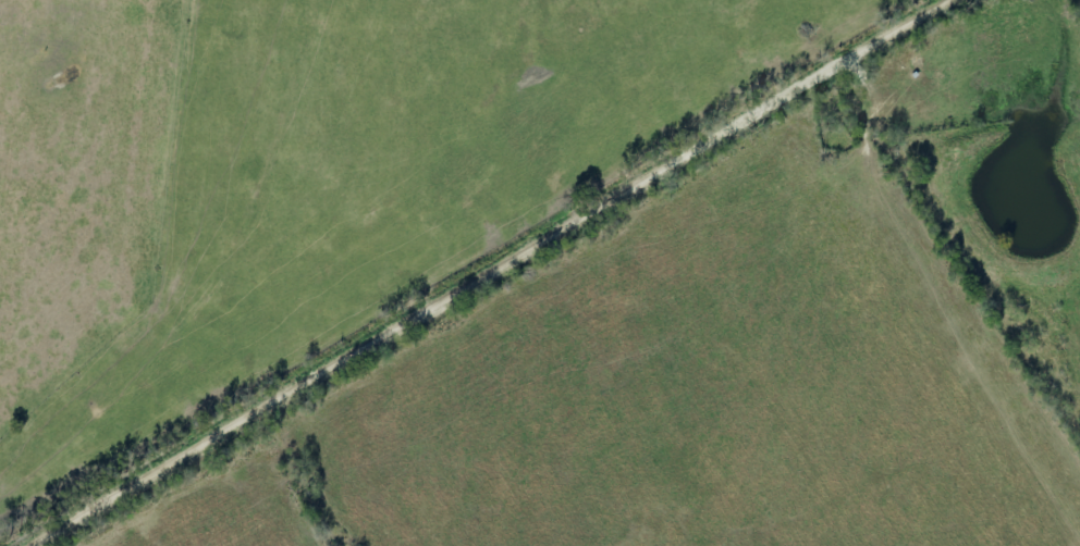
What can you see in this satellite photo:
road: (495, 271)

